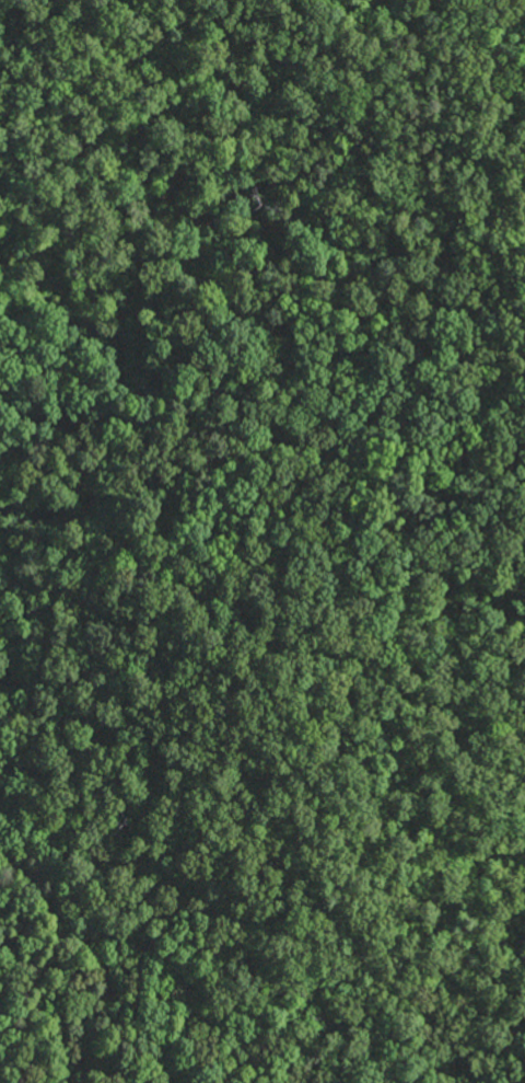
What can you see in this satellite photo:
road: (86, 952)

